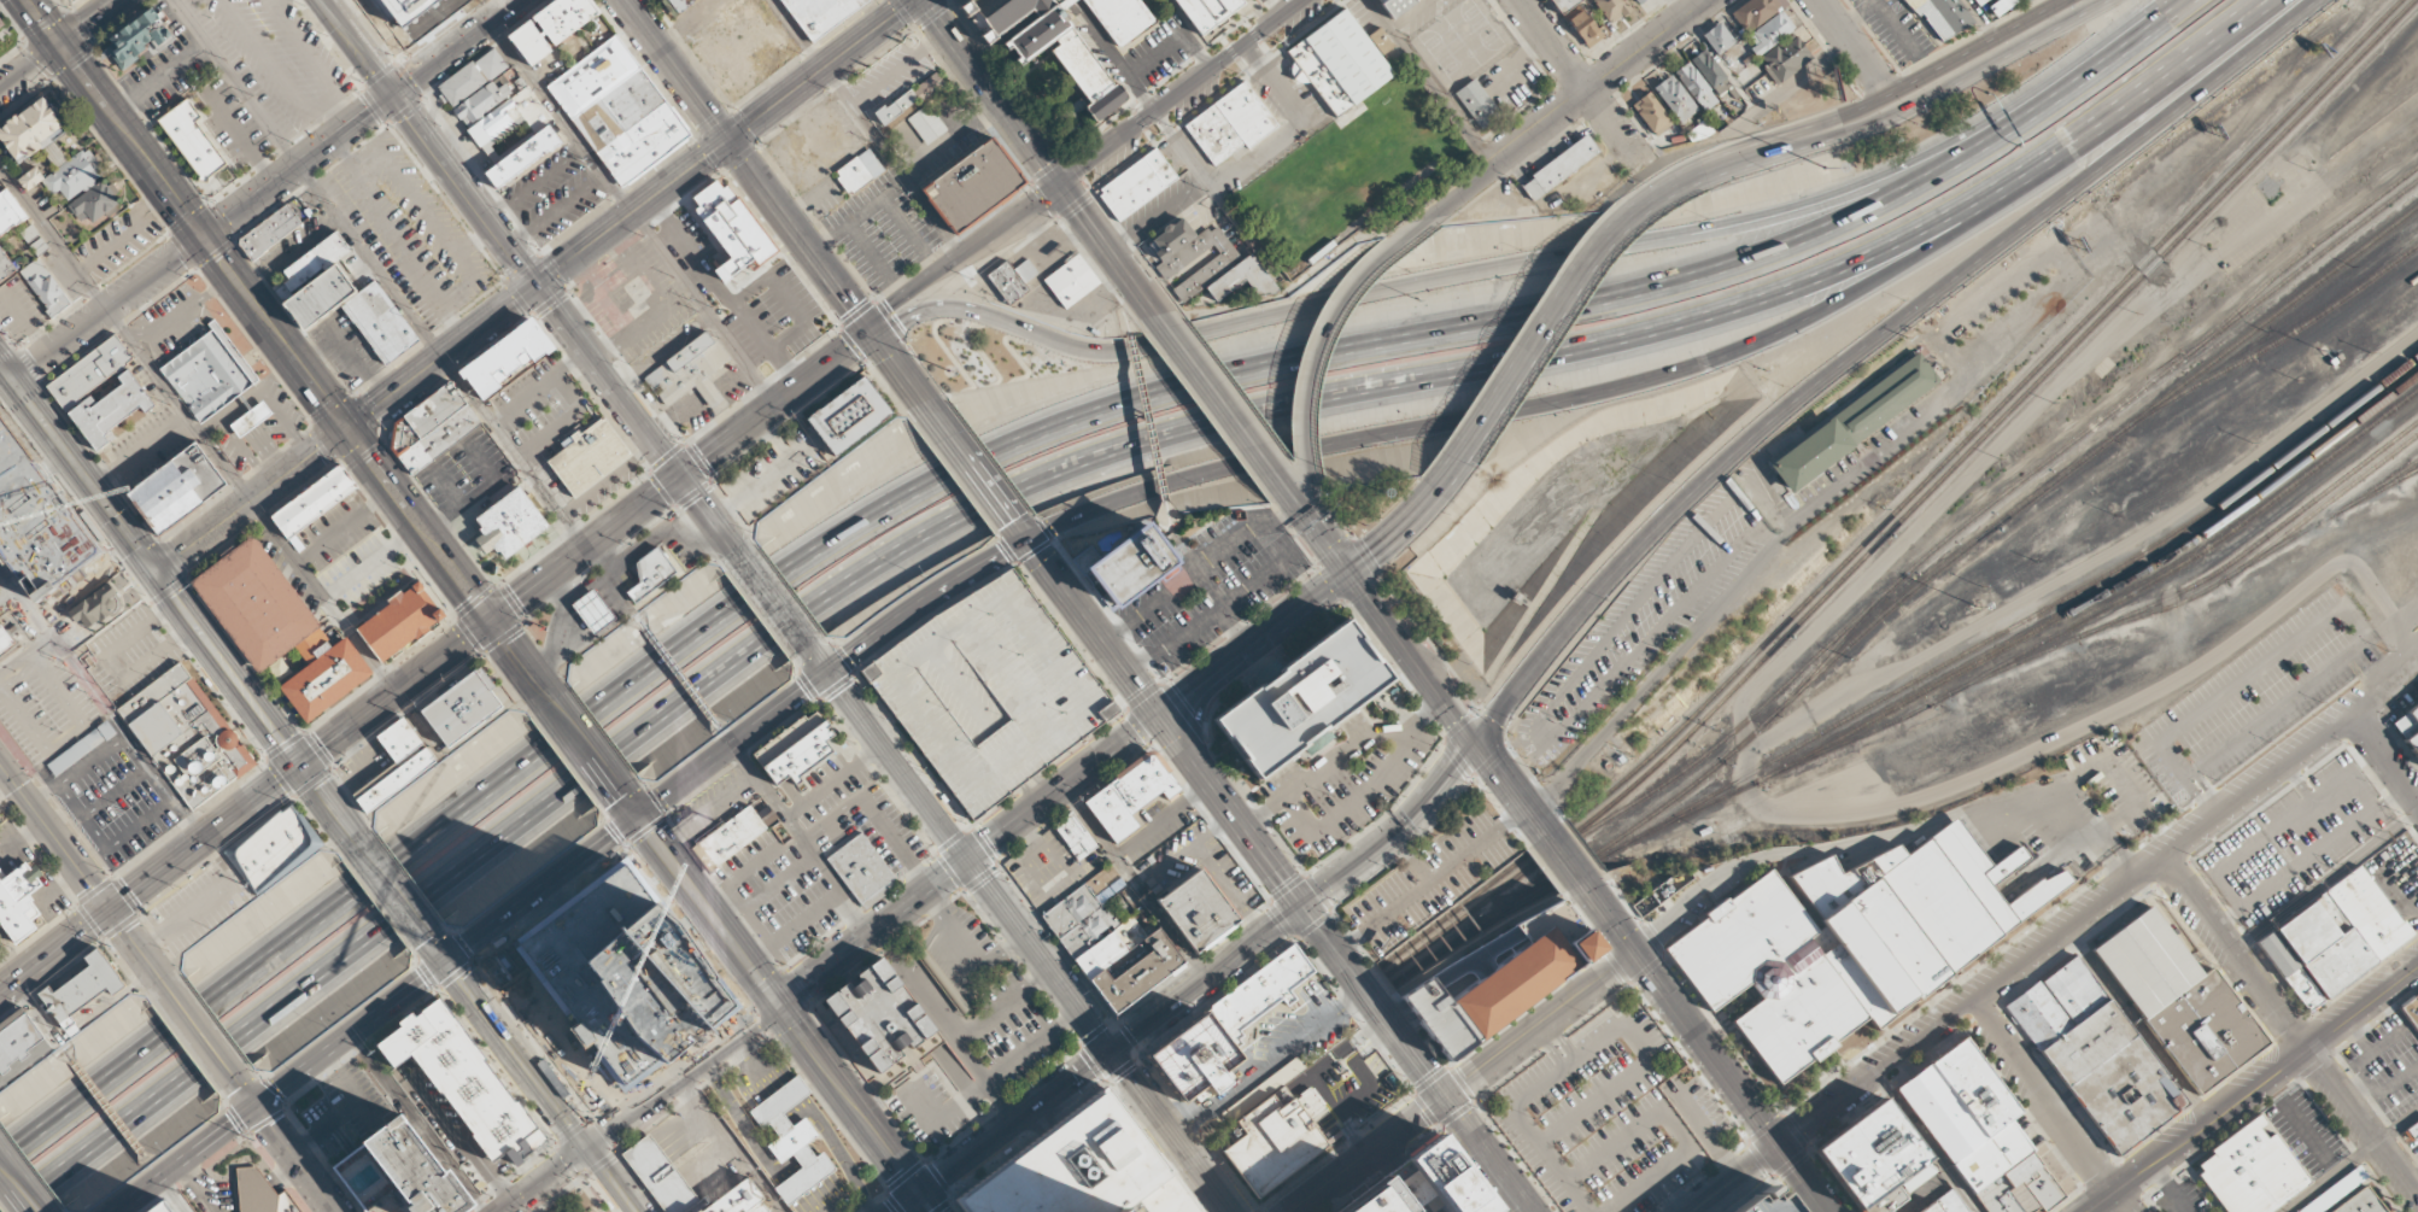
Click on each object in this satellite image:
building: (1064, 0)
building: (1635, 1)
building: (1978, 1)
building: (678, 4)
building: (1564, 5)
building: (1394, 6)
building: (2000, 6)
road: (2177, 7)
building: (1612, 8)
building: (1216, 10)
road: (1674, 11)
building: (1756, 12)
building: (819, 14)
building: (1003, 17)
building: (1939, 17)
building: (1122, 18)
building: (2, 22)
road: (42, 23)
road: (89, 23)
building: (550, 27)
building: (1583, 28)
building: (1770, 33)
road: (364, 34)
building: (137, 39)
building: (1717, 39)
building: (1381, 40)
traffic signals: (60, 46)
road: (455, 47)
road: (1852, 47)
road: (351, 48)
parking lot: (273, 58)
building: (1784, 58)
building: (1337, 63)
road: (30, 69)
parking lot: (165, 71)
building: (1710, 72)
building: (472, 76)
parking lot: (889, 77)
road: (1582, 83)
road: (1603, 83)
road: (1430, 84)
road: (1907, 84)
road: (2156, 84)
building: (927, 87)
building: (1696, 87)
traffic signals: (392, 96)
road: (1934, 96)
building: (1675, 99)
building: (480, 101)
building: (1476, 104)
building: (617, 110)
building: (895, 110)
building: (1651, 115)
building: (926, 123)
building: (1229, 123)
parking lot: (232, 124)
building: (491, 128)
building: (35, 130)
building: (1698, 131)
building: (191, 137)
traffic signals: (728, 141)
road: (725, 142)
building: (522, 157)
road: (1038, 157)
road: (1082, 163)
road: (298, 168)
building: (1558, 168)
building: (857, 170)
road: (1692, 175)
building: (75, 178)
building: (1136, 185)
building: (972, 186)
road: (464, 191)
parking lot: (554, 193)
parking lot: (824, 197)
road: (1453, 199)
building: (92, 206)
building: (10, 212)
road: (784, 217)
building: (731, 228)
parking lot: (408, 229)
building: (269, 232)
parking lot: (880, 232)
road: (53, 236)
parking lot: (118, 239)
traffic signals: (204, 239)
railway: (2293, 257)
road: (1534, 259)
building: (1204, 263)
building: (6, 269)
railway: (2297, 271)
railway: (538, 274)
building: (1012, 279)
building: (1070, 280)
building: (316, 281)
building: (45, 287)
road: (107, 309)
parking lot: (19, 310)
railway: (2266, 318)
building: (379, 322)
parking lot: (170, 327)
traffic signals: (867, 328)
road: (1539, 329)
road: (275, 333)
road: (1867, 341)
road: (1317, 344)
railway: (2271, 344)
parking lot: (346, 349)
building: (514, 349)
road: (443, 357)
railway: (2032, 370)
building: (88, 371)
building: (689, 371)
building: (209, 375)
road: (608, 380)
railway: (2025, 392)
road: (1555, 402)
road: (774, 403)
road: (1228, 408)
building: (112, 409)
building: (859, 409)
railway: (655, 412)
building: (433, 414)
building: (256, 416)
building: (1854, 422)
parking lot: (552, 428)
traffic signals: (347, 429)
building: (444, 437)
road: (1014, 441)
parking lot: (146, 449)
road: (139, 450)
building: (596, 455)
parking lot: (464, 475)
traffic signals: (679, 475)
road: (979, 476)
railway: (2384, 482)
building: (178, 487)
railway: (2332, 497)
road: (252, 500)
building: (314, 500)
road: (252, 502)
road: (710, 517)
road: (1321, 519)
building: (508, 523)
road: (941, 525)
road: (1020, 529)
parking lot: (336, 531)
traffic signals: (1029, 540)
railway: (1934, 544)
road: (585, 548)
railway: (2267, 550)
railway: (2194, 552)
building: (1128, 563)
road: (150, 564)
railway: (1940, 567)
parking lot: (362, 569)
traffic signals: (1349, 572)
building: (650, 573)
traffic signals: (157, 574)
parking lot: (77, 576)
railway: (2096, 576)
railway: (2200, 578)
railway: (2098, 593)
railway: (781, 599)
road: (923, 601)
road: (1310, 601)
road: (775, 603)
building: (95, 607)
gas station: (598, 607)
building: (595, 610)
traffic signals: (491, 620)
building: (403, 621)
road: (1386, 621)
railway: (171, 623)
building: (280, 627)
road: (1094, 628)
building: (5, 642)
railway: (1827, 652)
road: (517, 656)
road: (818, 661)
traffic signals: (827, 674)
railway: (217, 691)
road: (396, 692)
building: (990, 692)
parking garage: (990, 692)
building: (473, 698)
building: (1304, 698)
road: (2353, 704)
traffic signals: (1159, 716)
building: (2408, 727)
building: (186, 736)
railway: (1855, 736)
traffic signals: (1474, 740)
parking lot: (76, 744)
road: (584, 745)
road: (732, 746)
building: (795, 749)
building: (405, 757)
railway: (1719, 761)
traffic signals: (300, 766)
parking lot: (363, 766)
road: (897, 766)
road: (2406, 785)
road: (1064, 787)
road: (1509, 787)
building: (1130, 795)
road: (329, 806)
road: (631, 809)
road: (1230, 810)
railway: (1680, 810)
railway: (958, 816)
traffic signals: (638, 819)
railway: (1600, 822)
railway: (1650, 831)
road: (1397, 832)
building: (732, 835)
building: (1075, 836)
railway: (1603, 848)
building: (273, 849)
railway: (974, 855)
railway: (1526, 857)
traffic signals: (968, 859)
road: (1563, 859)
building: (860, 868)
road: (80, 870)
road: (158, 872)
building: (1839, 879)
railway: (1511, 880)
road: (393, 889)
road: (543, 890)
railway: (380, 898)
building: (19, 903)
traffic signals: (1301, 904)
parking lot: (198, 906)
building: (1198, 908)
traffic signals: (110, 909)
road: (707, 912)
building: (1922, 920)
road: (872, 931)
railway: (1468, 933)
building: (1738, 938)
building: (2334, 938)
building: (1580, 947)
road: (438, 948)
traffic signals: (1634, 953)
road: (1040, 954)
road: (2024, 959)
railway: (1336, 961)
traffic signals: (449, 962)
building: (2147, 962)
building: (1137, 973)
building: (1769, 977)
road: (1206, 978)
road: (10, 983)
building: (1511, 983)
road: (10, 988)
building: (82, 989)
building: (2074, 989)
building: (1258, 994)
building: (2416, 997)
traffic signals: (777, 1005)
building: (2411, 1011)
building: (879, 1014)
building: (2041, 1014)
building: (1438, 1017)
building: (1798, 1019)
road: (2290, 1026)
building: (2206, 1030)
road: (200, 1031)
building: (19, 1037)
building: (2086, 1042)
road: (1705, 1047)
traffic signals: (1112, 1052)
road: (519, 1055)
road: (1418, 1056)
building: (1193, 1060)
parking lot: (2389, 1065)
railway: (520, 1076)
road: (683, 1076)
road: (1462, 1079)
building: (464, 1082)
road: (282, 1087)
road: (2255, 1087)
building: (2126, 1094)
building: (1959, 1100)
road: (2050, 1105)
traffic signals: (257, 1107)
road: (854, 1108)
parking lot: (1610, 1116)
parking lot: (2309, 1129)
road: (1171, 1131)
building: (2411, 1131)
road: (1005, 1132)
building: (791, 1138)
building: (1276, 1140)
railway: (1000, 1144)
traffic signals: (1780, 1146)
road: (287, 1148)
traffic signals: (589, 1148)
parking lot: (2417, 1149)
building: (1870, 1153)
building: (1991, 1154)
building: (429, 1155)
road: (2350, 1161)
building: (1083, 1170)
building: (2252, 1170)
road: (545, 1179)
road: (611, 1179)
building: (1439, 1182)
building: (685, 1183)
road: (573, 1184)
railway: (962, 1184)
road: (18, 1185)
building: (2335, 1191)
building: (262, 1193)
road: (175, 1194)
traffic signals: (919, 1195)
building: (1375, 1199)
building: (1885, 1201)
building: (2360, 1202)
building: (1946, 1204)
building: (1766, 1205)
railway: (617, 1207)
building: (154, 1211)

